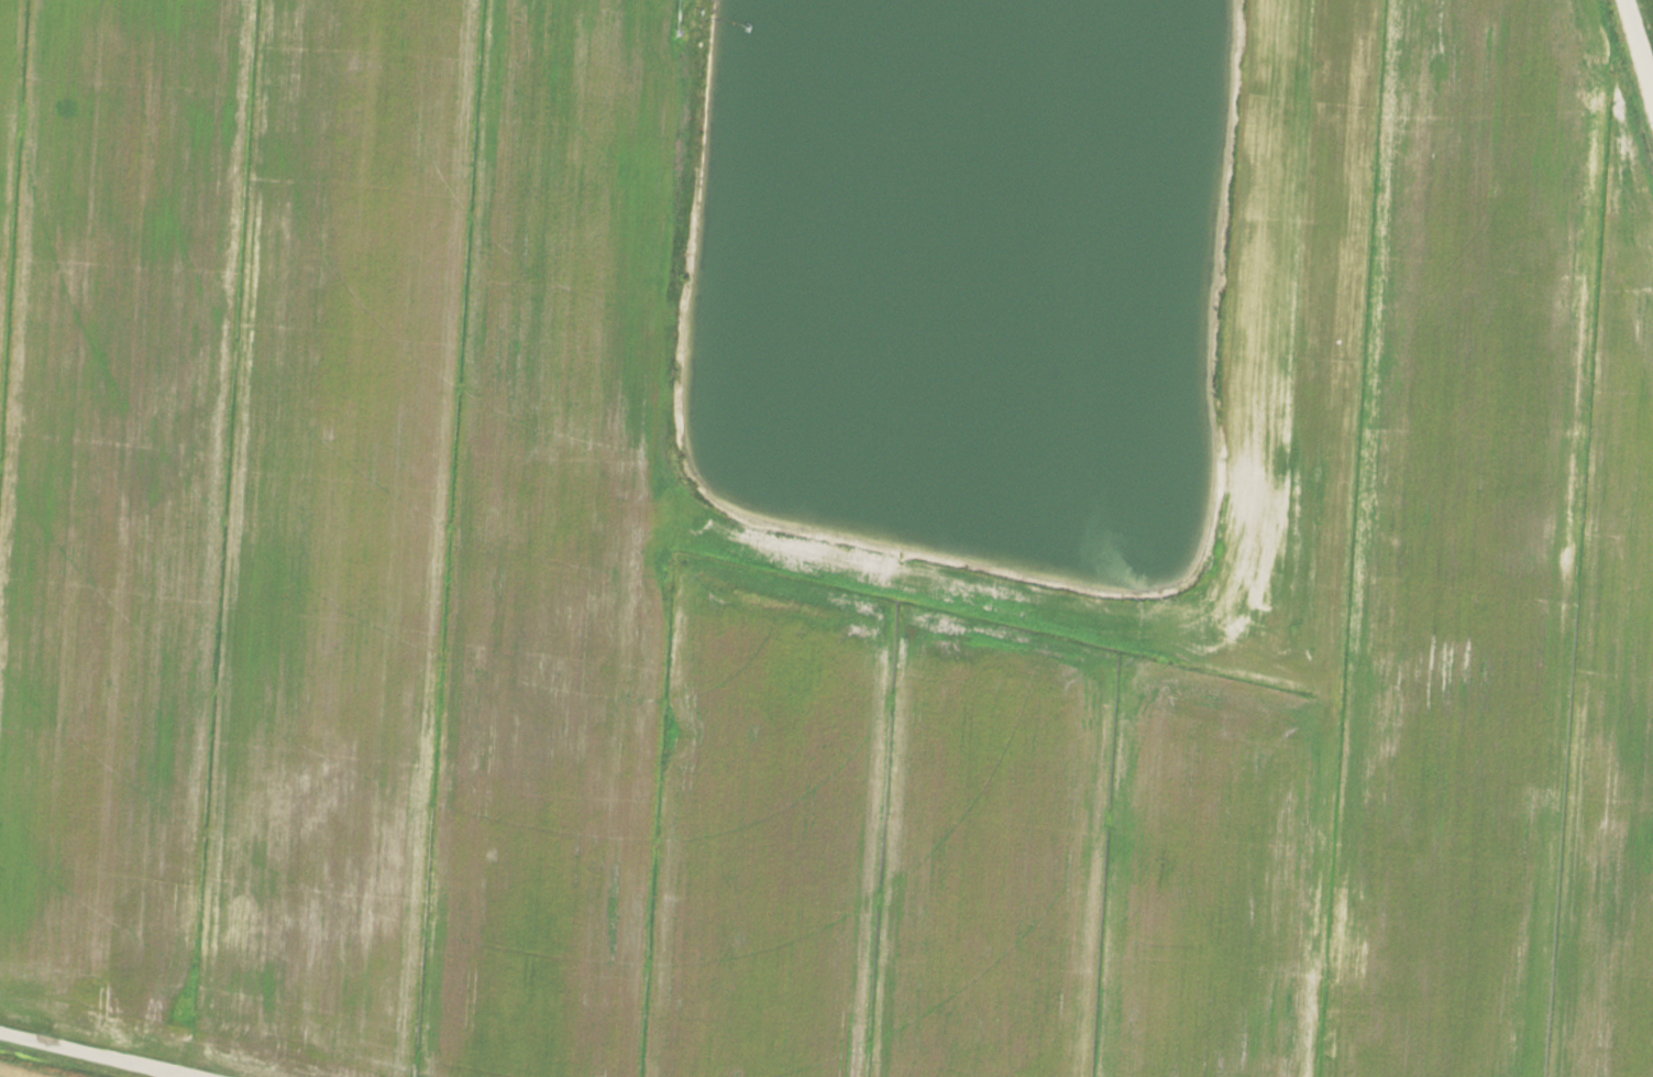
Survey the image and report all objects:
road: (1639, 46)
road: (96, 1054)

